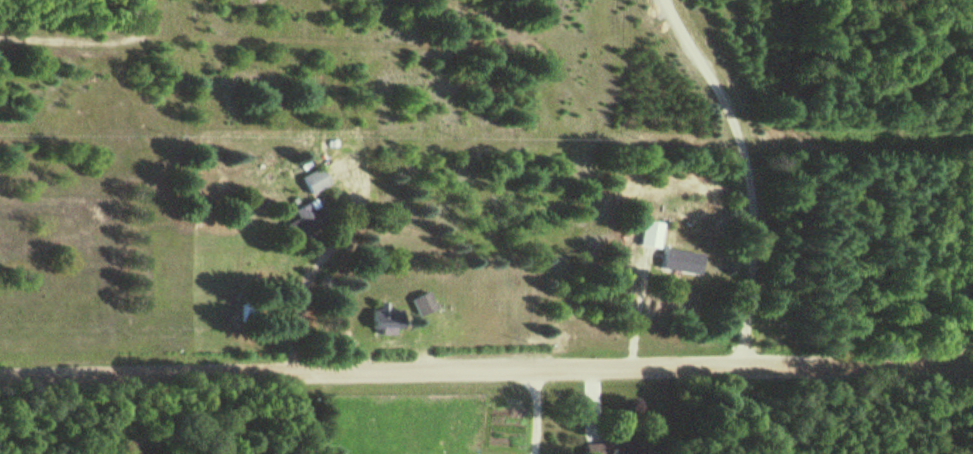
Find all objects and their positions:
road: (749, 172)
building: (315, 178)
building: (305, 218)
building: (652, 233)
building: (684, 260)
road: (305, 288)
building: (424, 303)
road: (640, 306)
building: (248, 310)
building: (387, 317)
road: (957, 322)
road: (486, 367)
road: (593, 401)
road: (537, 410)
road: (177, 415)
building: (617, 446)

